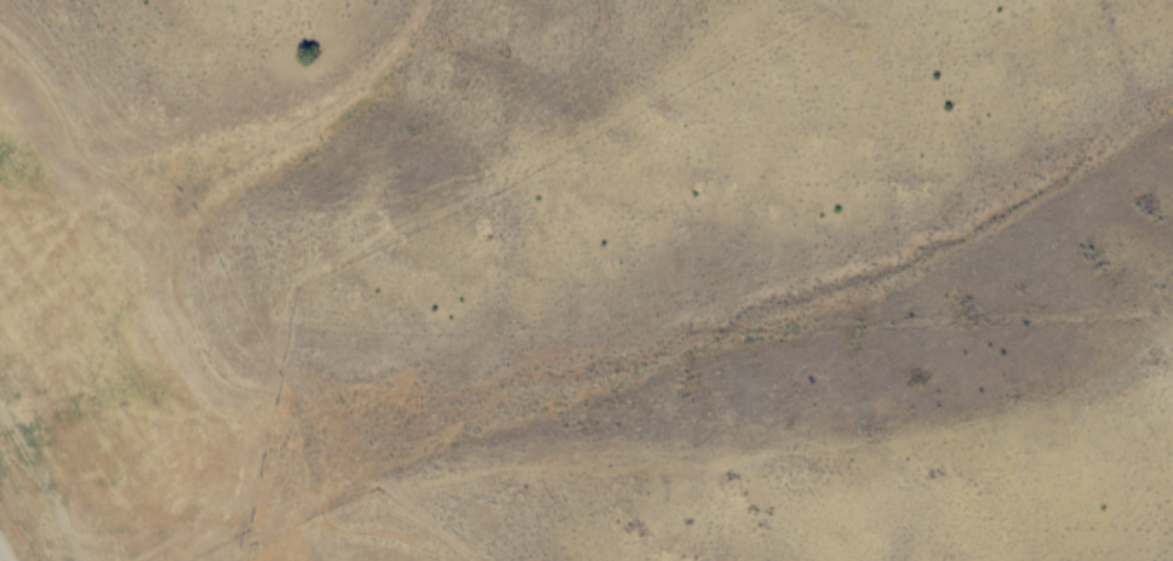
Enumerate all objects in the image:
road: (2, 555)

